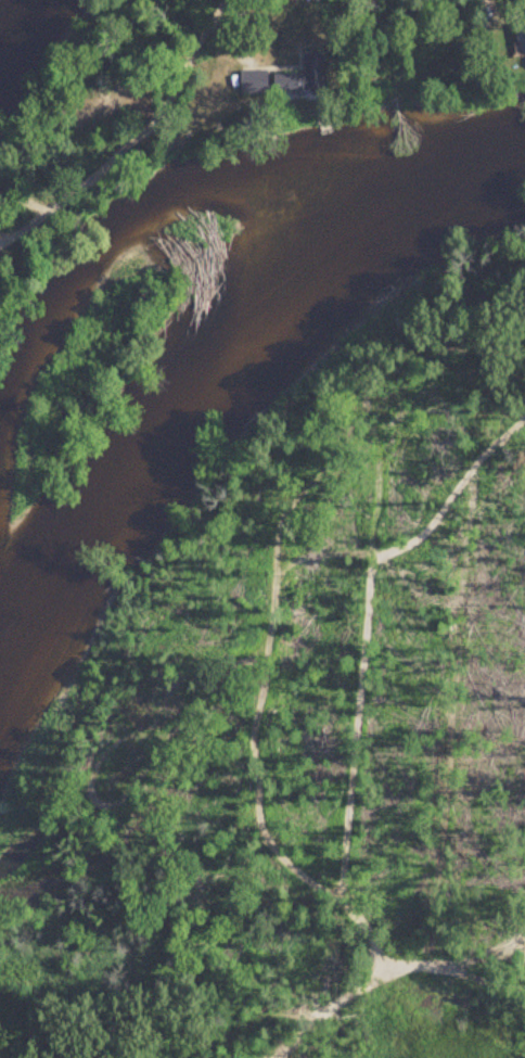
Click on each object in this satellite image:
river: (1, 3)
road: (219, 11)
building: (521, 43)
building: (291, 84)
road: (119, 143)
river: (226, 356)

